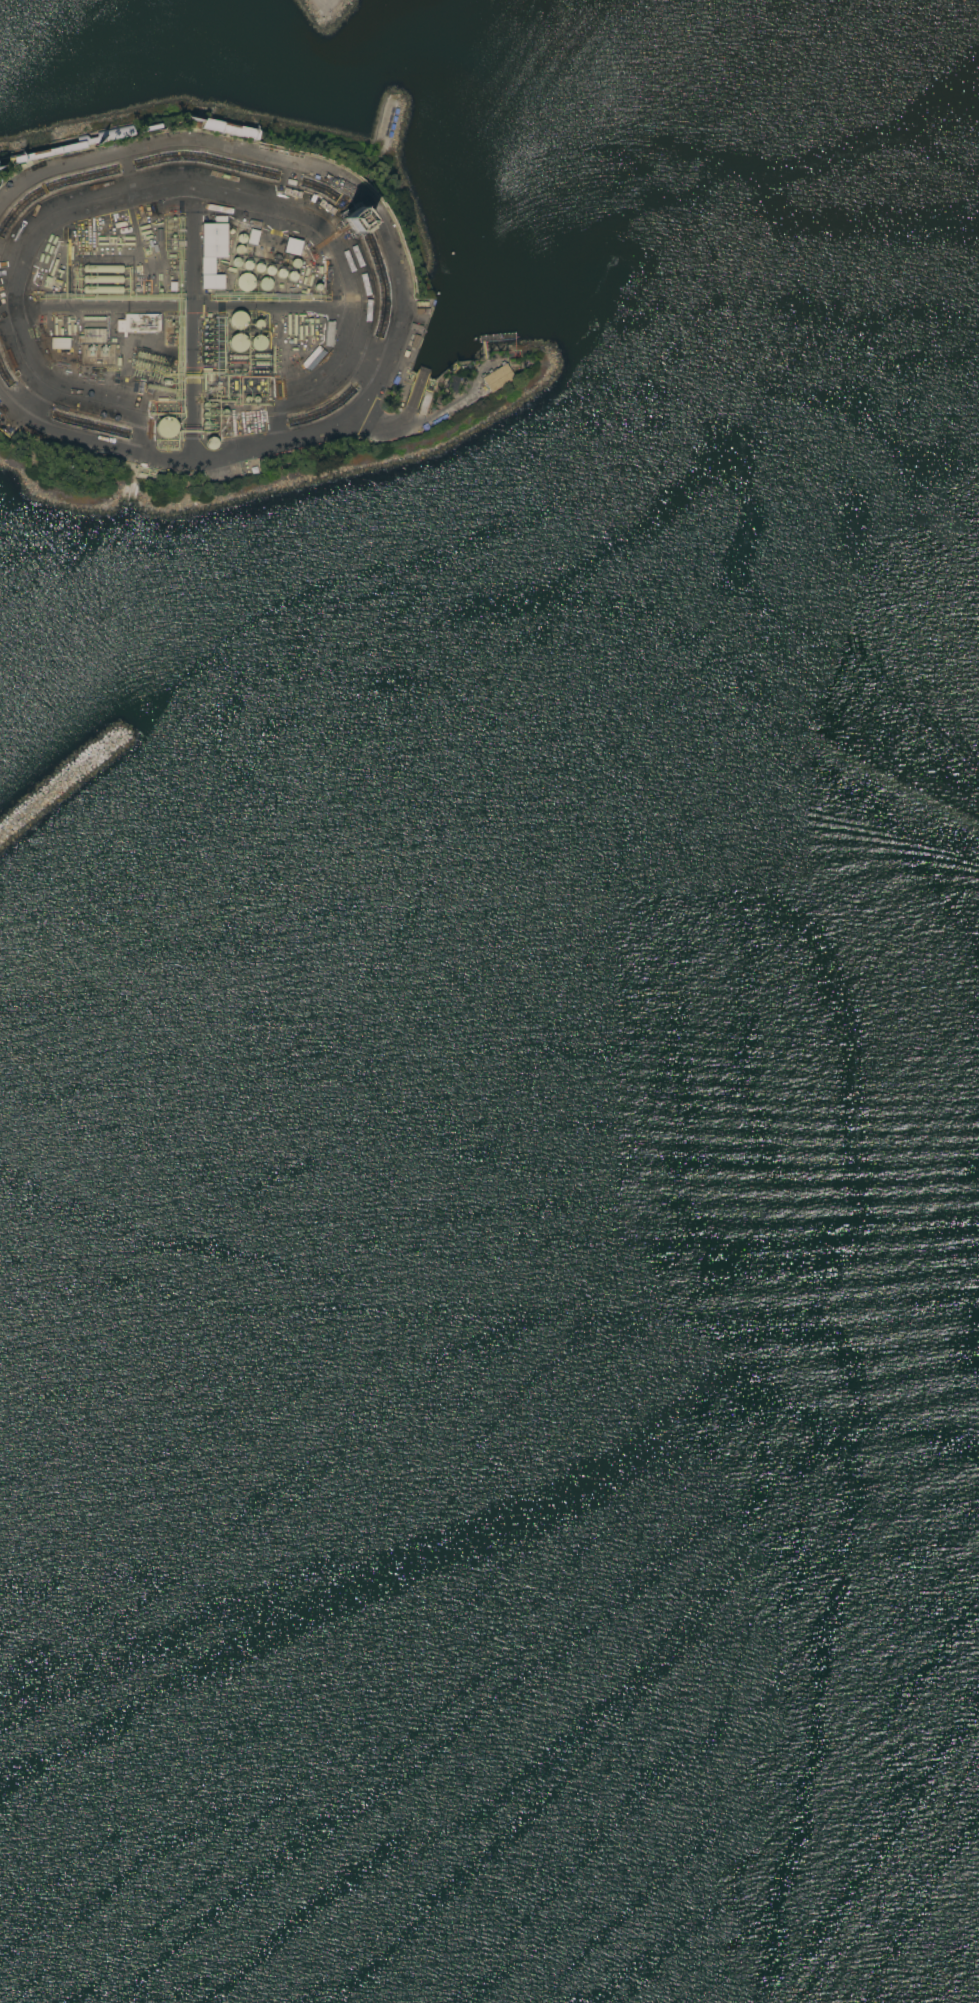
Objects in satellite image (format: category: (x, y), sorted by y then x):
road: (322, 1)
building: (230, 129)
building: (77, 144)
road: (218, 195)
building: (150, 209)
building: (263, 217)
building: (254, 237)
building: (293, 246)
building: (214, 251)
building: (104, 268)
building: (103, 278)
building: (246, 282)
building: (266, 283)
building: (103, 289)
road: (396, 300)
road: (271, 309)
road: (43, 315)
building: (84, 320)
building: (238, 320)
building: (139, 323)
road: (190, 325)
building: (94, 341)
building: (238, 342)
building: (259, 342)
building: (60, 343)
road: (359, 361)
building: (368, 365)
building: (94, 376)
building: (497, 377)
building: (452, 383)
building: (159, 388)
road: (381, 424)
building: (167, 427)
building: (251, 434)
building: (212, 443)
building: (219, 471)
building: (221, 477)

